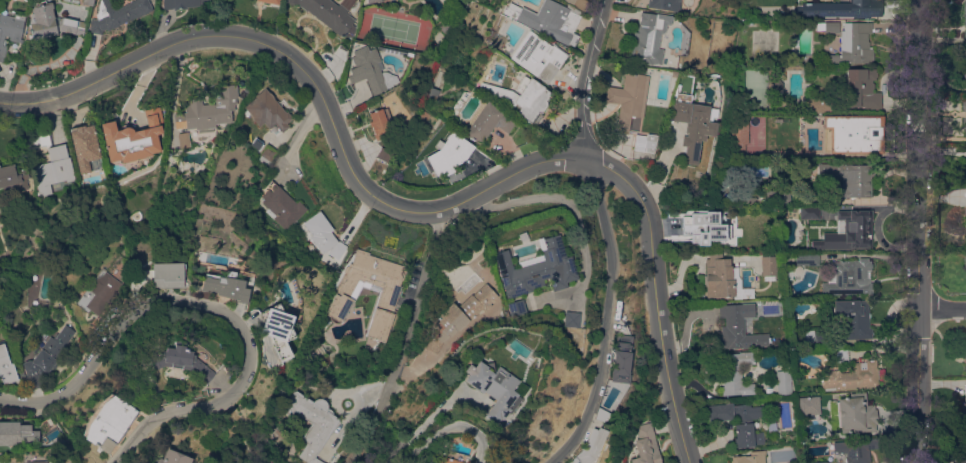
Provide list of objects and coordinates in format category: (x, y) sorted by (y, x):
building: (270, 1)
building: (372, 1)
building: (88, 2)
building: (181, 3)
building: (578, 4)
building: (663, 4)
building: (843, 8)
building: (329, 13)
building: (117, 14)
building: (548, 19)
building: (965, 19)
building: (51, 22)
building: (446, 24)
building: (827, 26)
building: (10, 31)
building: (647, 38)
road: (255, 39)
building: (854, 44)
building: (537, 57)
building: (370, 70)
building: (965, 74)
road: (582, 77)
building: (862, 89)
building: (432, 93)
building: (626, 97)
building: (520, 98)
building: (821, 104)
building: (965, 106)
building: (267, 110)
building: (208, 111)
building: (488, 122)
building: (379, 123)
building: (693, 124)
building: (965, 124)
building: (853, 134)
road: (299, 135)
building: (739, 135)
building: (133, 137)
building: (803, 140)
building: (644, 142)
building: (86, 148)
road: (918, 153)
building: (267, 154)
building: (448, 154)
building: (965, 160)
road: (591, 162)
building: (53, 169)
building: (12, 178)
building: (848, 179)
road: (507, 180)
building: (766, 197)
road: (569, 204)
building: (281, 205)
building: (808, 212)
building: (705, 227)
building: (847, 232)
building: (323, 237)
building: (807, 258)
building: (149, 259)
building: (965, 259)
building: (768, 265)
building: (535, 270)
building: (167, 275)
building: (719, 277)
building: (848, 278)
building: (225, 285)
building: (99, 292)
building: (342, 301)
road: (148, 304)
road: (659, 305)
building: (239, 306)
building: (514, 307)
road: (941, 307)
building: (457, 316)
building: (397, 318)
building: (853, 318)
building: (569, 319)
building: (103, 322)
road: (609, 322)
building: (733, 327)
building: (277, 328)
building: (815, 338)
road: (400, 343)
building: (965, 350)
building: (45, 355)
building: (841, 355)
building: (620, 358)
building: (179, 360)
building: (6, 366)
building: (736, 373)
building: (851, 375)
building: (784, 382)
road: (917, 385)
building: (490, 388)
building: (965, 388)
building: (809, 405)
building: (965, 409)
building: (721, 412)
building: (853, 413)
road: (158, 414)
building: (108, 422)
building: (312, 422)
building: (48, 424)
building: (748, 424)
road: (444, 428)
building: (17, 433)
building: (646, 445)
building: (589, 446)
building: (857, 449)
building: (171, 457)
building: (450, 457)
building: (750, 457)
building: (961, 460)
building: (35, 461)
building: (269, 462)
building: (431, 462)
building: (818, 462)

